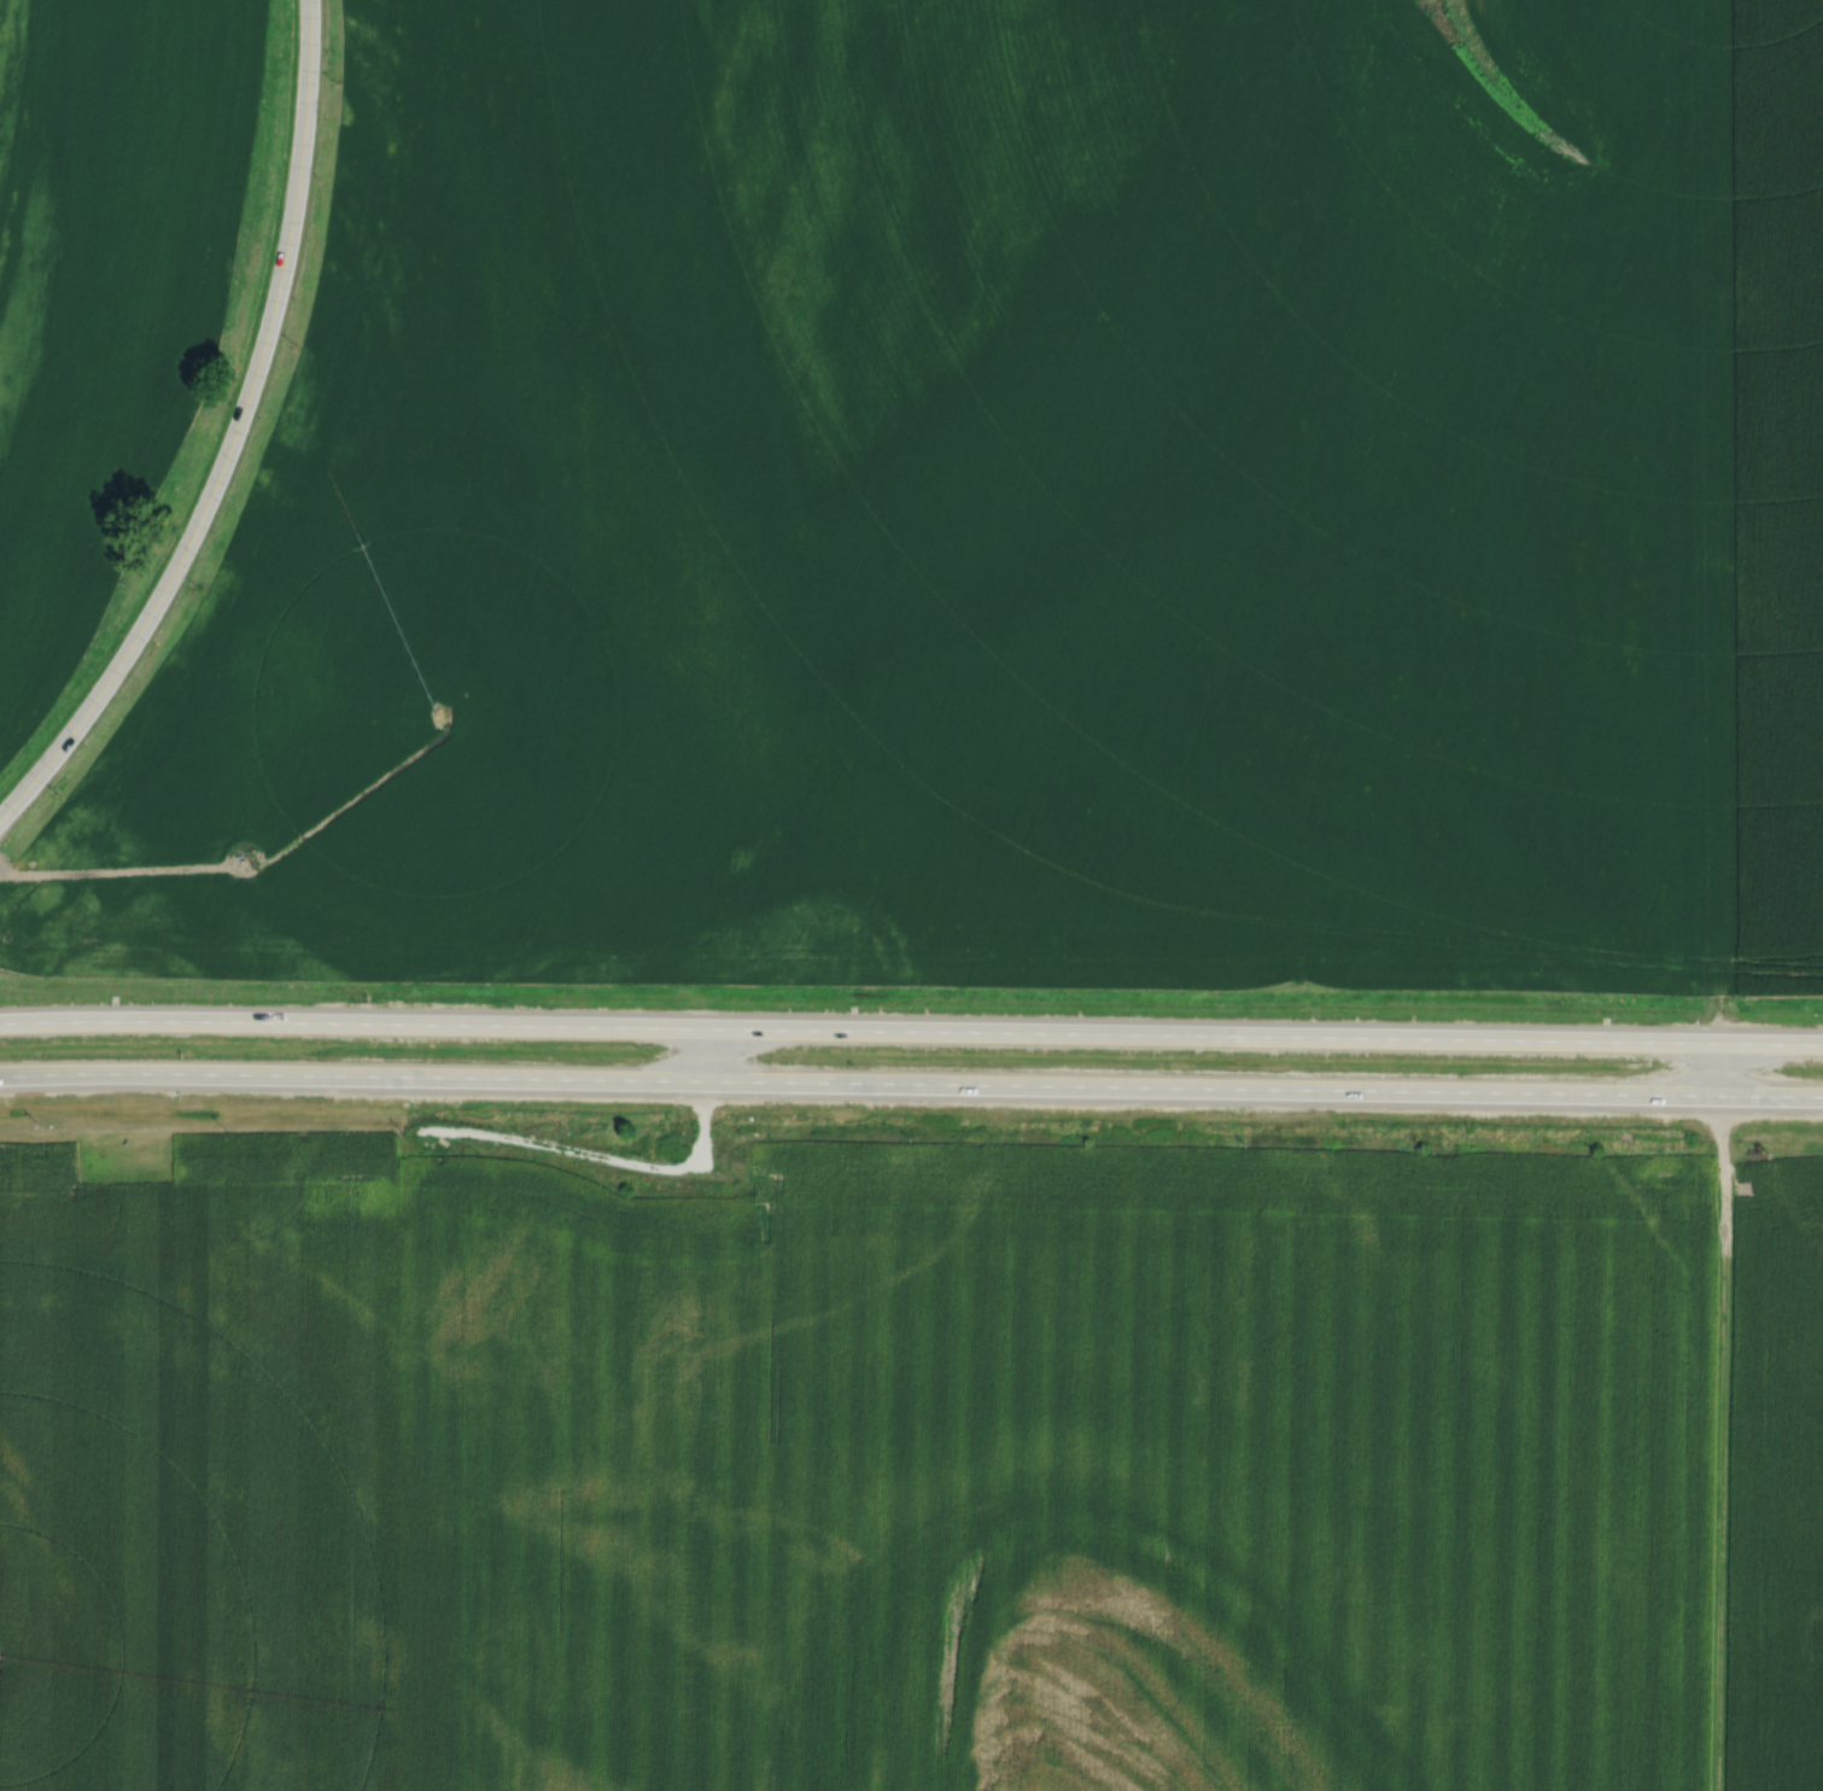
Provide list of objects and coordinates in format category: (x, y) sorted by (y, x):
road: (239, 439)
road: (911, 1029)
road: (911, 1083)
road: (594, 1154)

